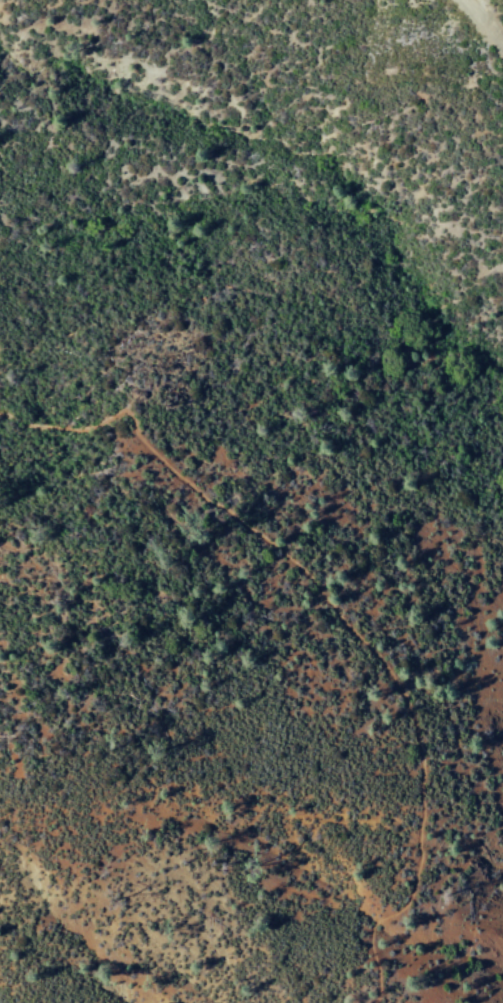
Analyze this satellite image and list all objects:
road: (488, 18)

